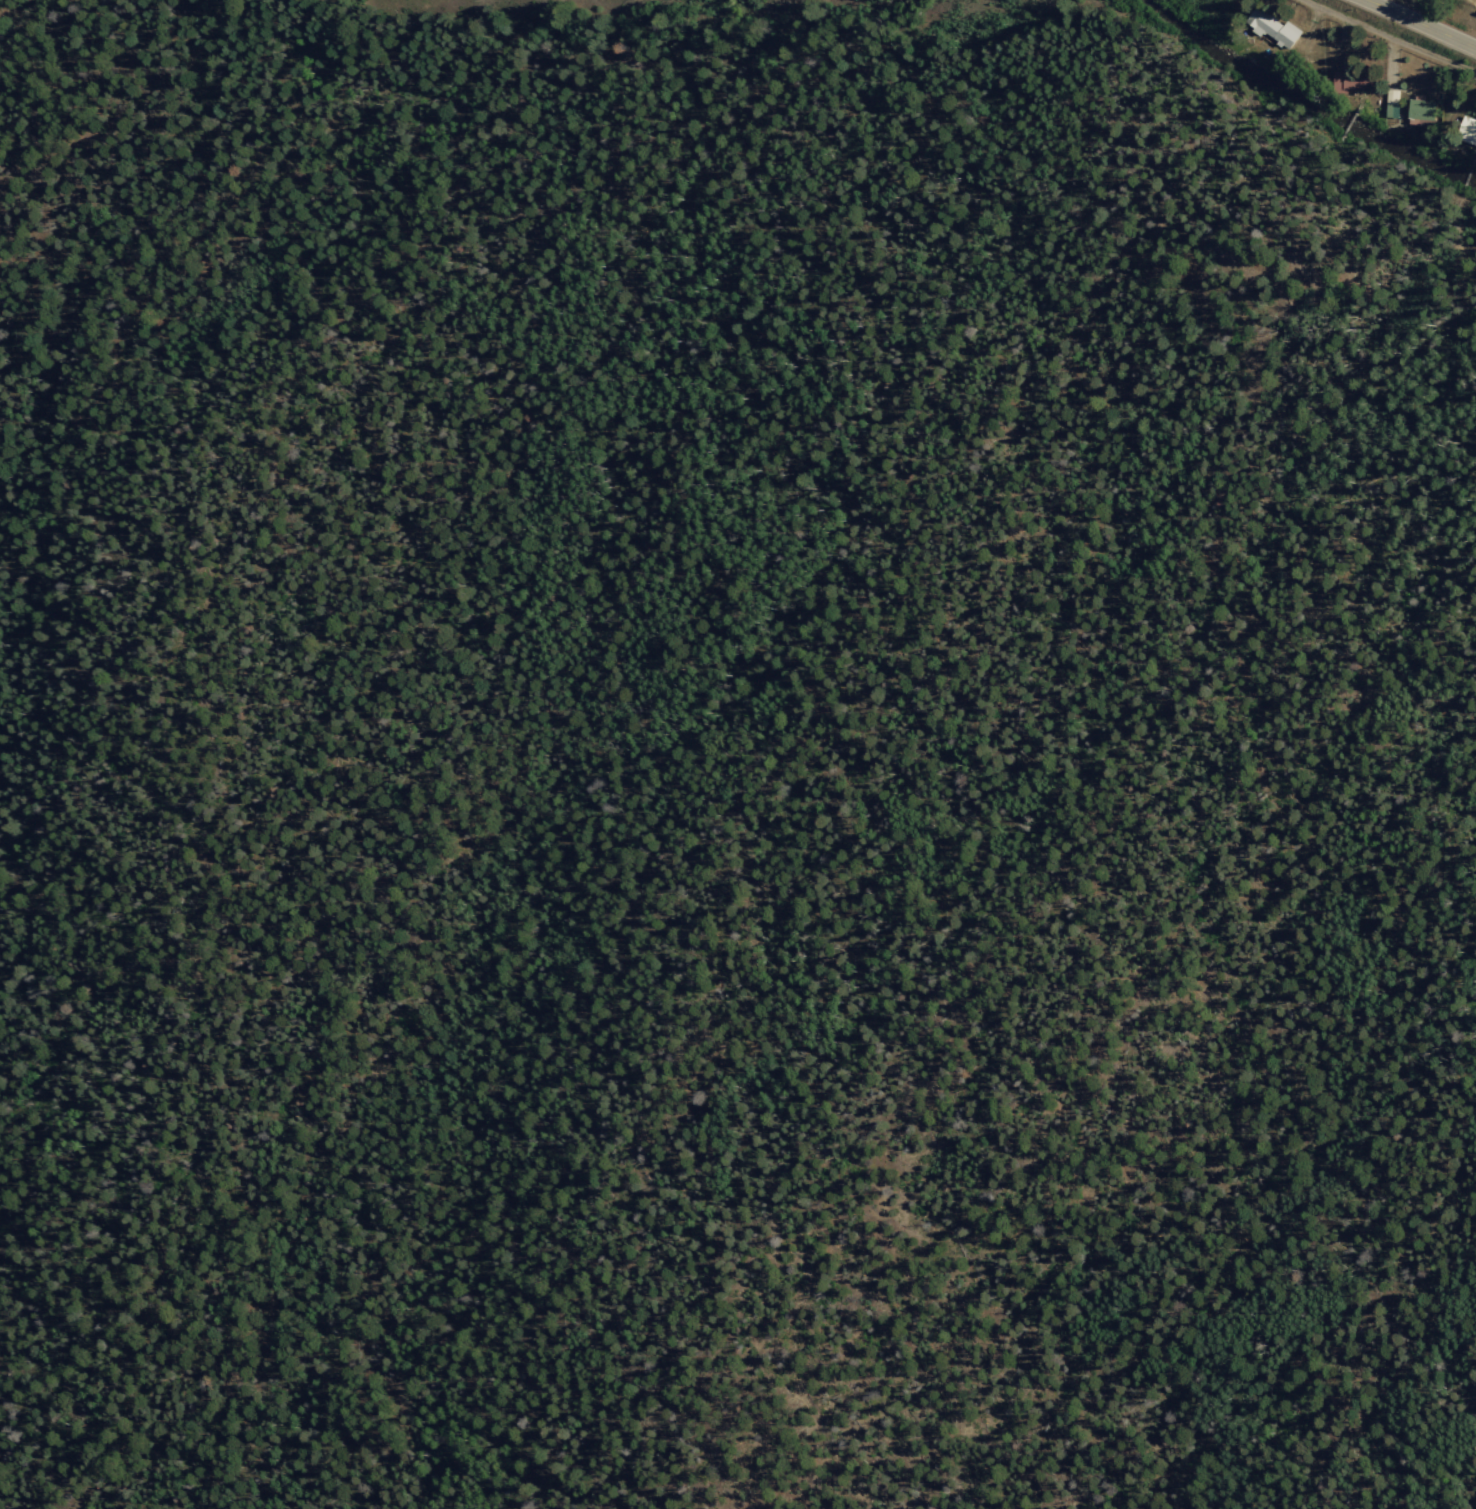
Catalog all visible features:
road: (1421, 23)
building: (1271, 27)
road: (1391, 37)
building: (1346, 82)
river: (1311, 95)
building: (1420, 109)
building: (1391, 110)
road: (1352, 121)
building: (1466, 129)
road: (1468, 176)

